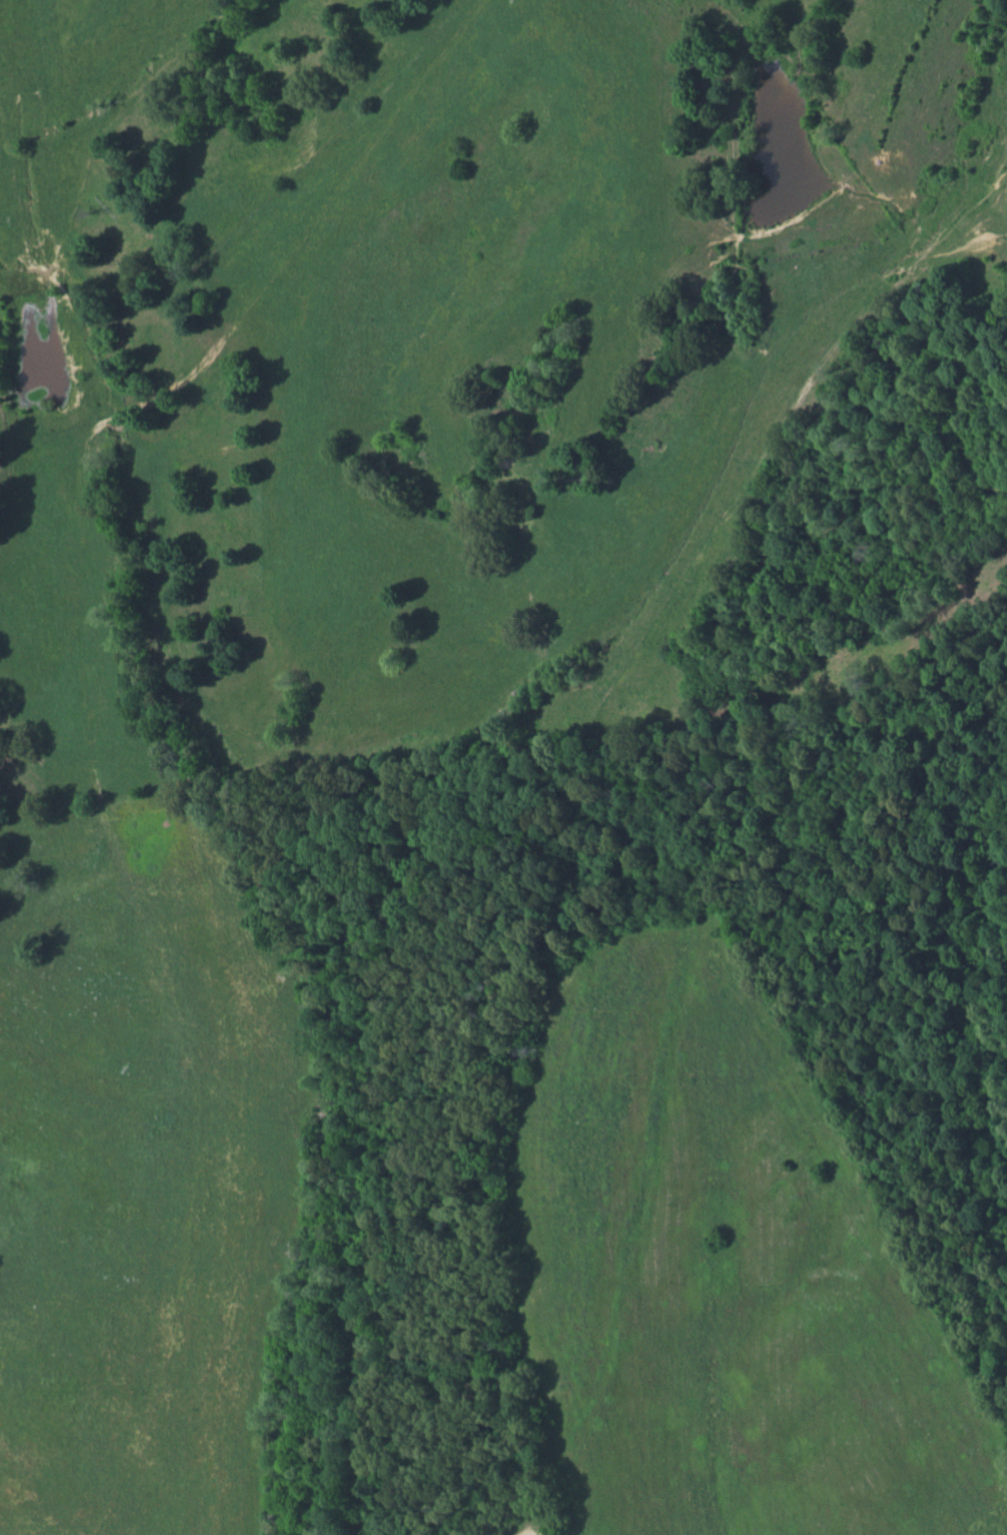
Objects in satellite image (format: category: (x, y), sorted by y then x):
road: (660, 1111)

